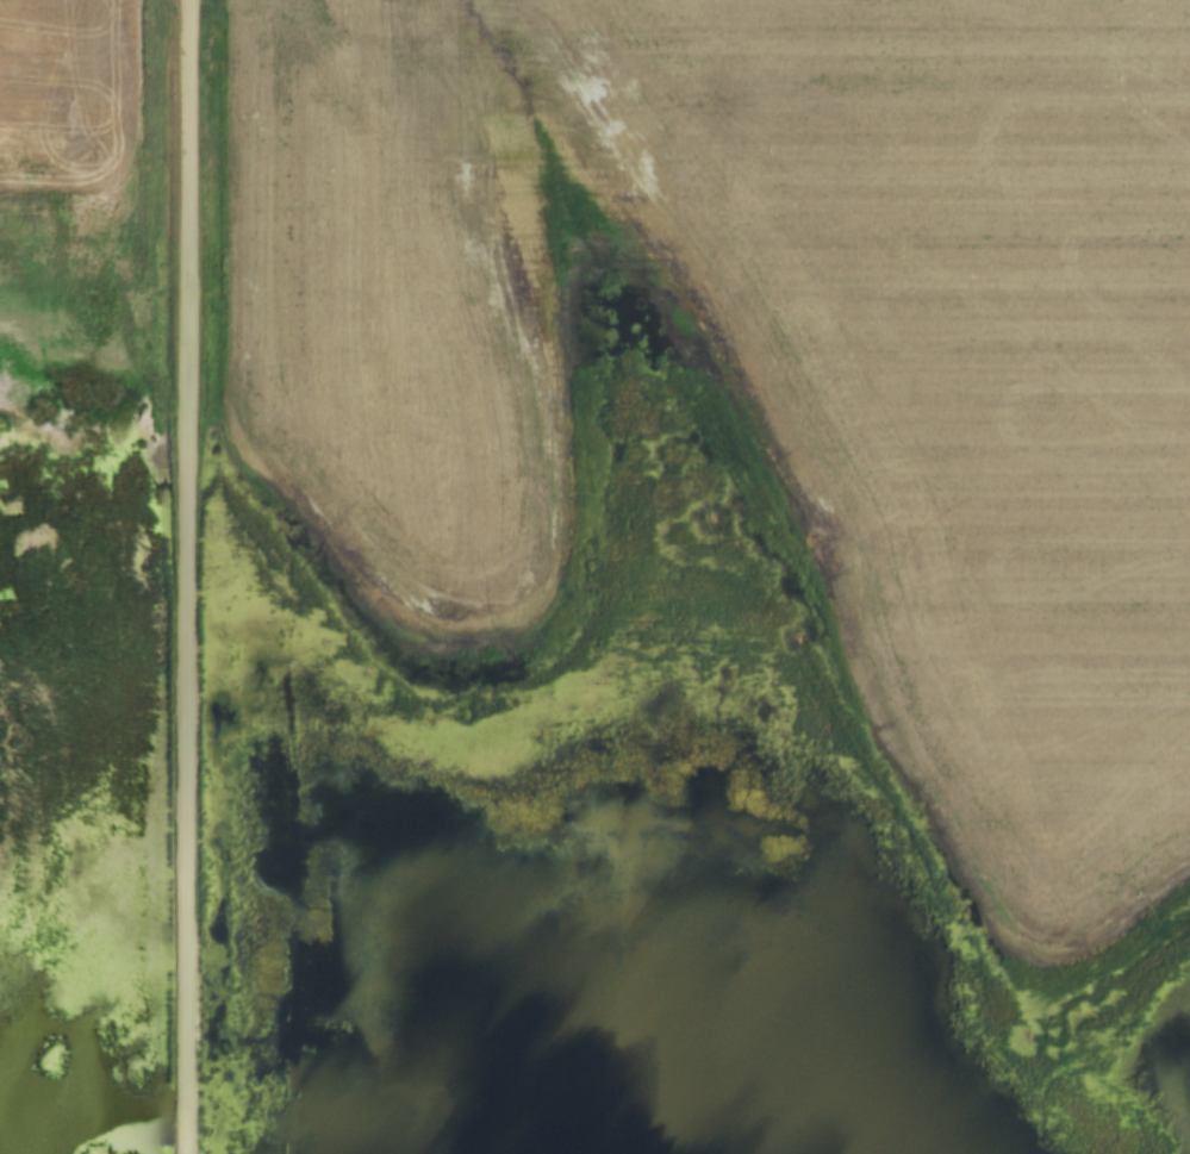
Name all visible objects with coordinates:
road: (187, 576)

